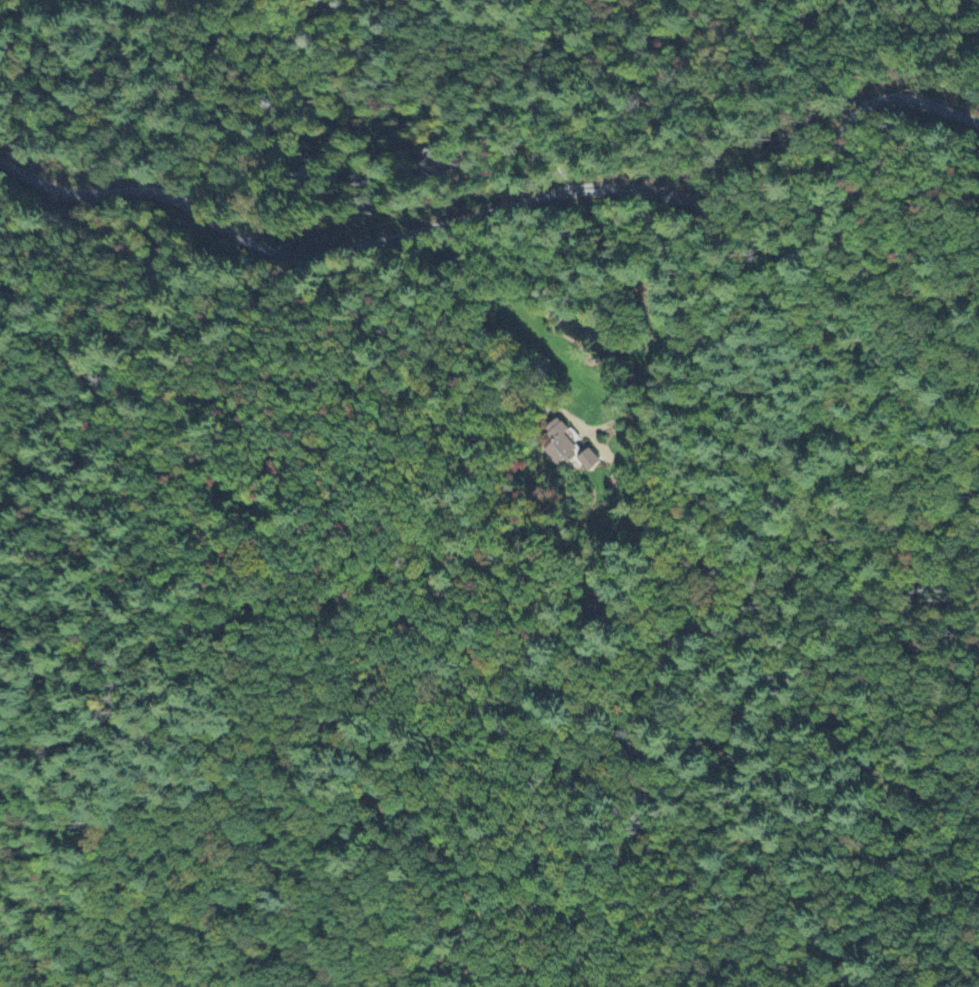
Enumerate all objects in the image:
road: (540, 196)
building: (569, 452)

